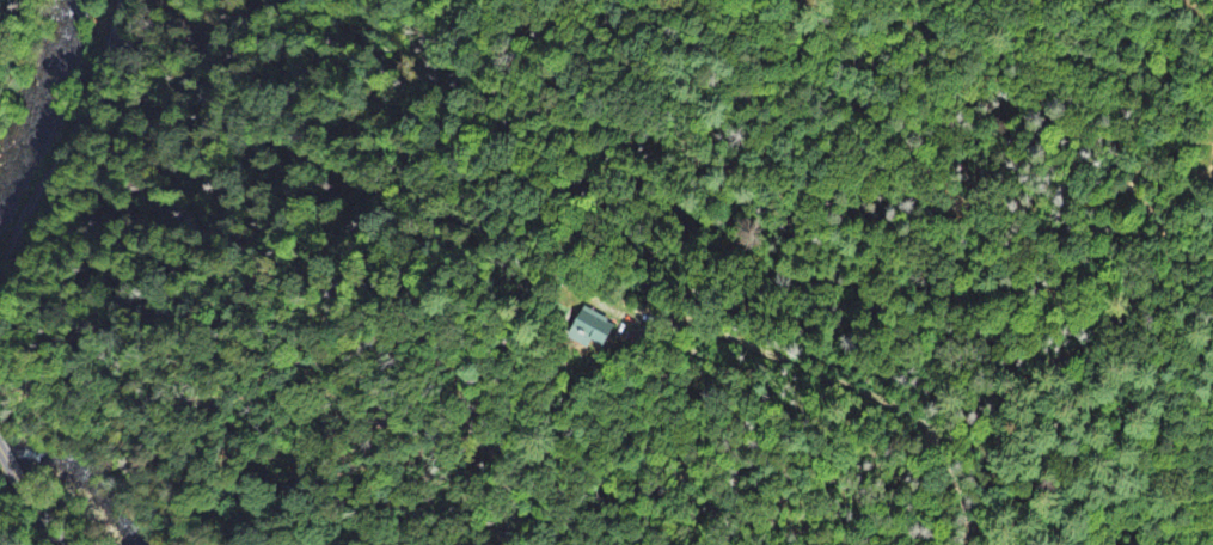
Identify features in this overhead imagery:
river: (30, 65)
road: (71, 145)
river: (75, 480)
road: (19, 483)
road: (48, 531)

